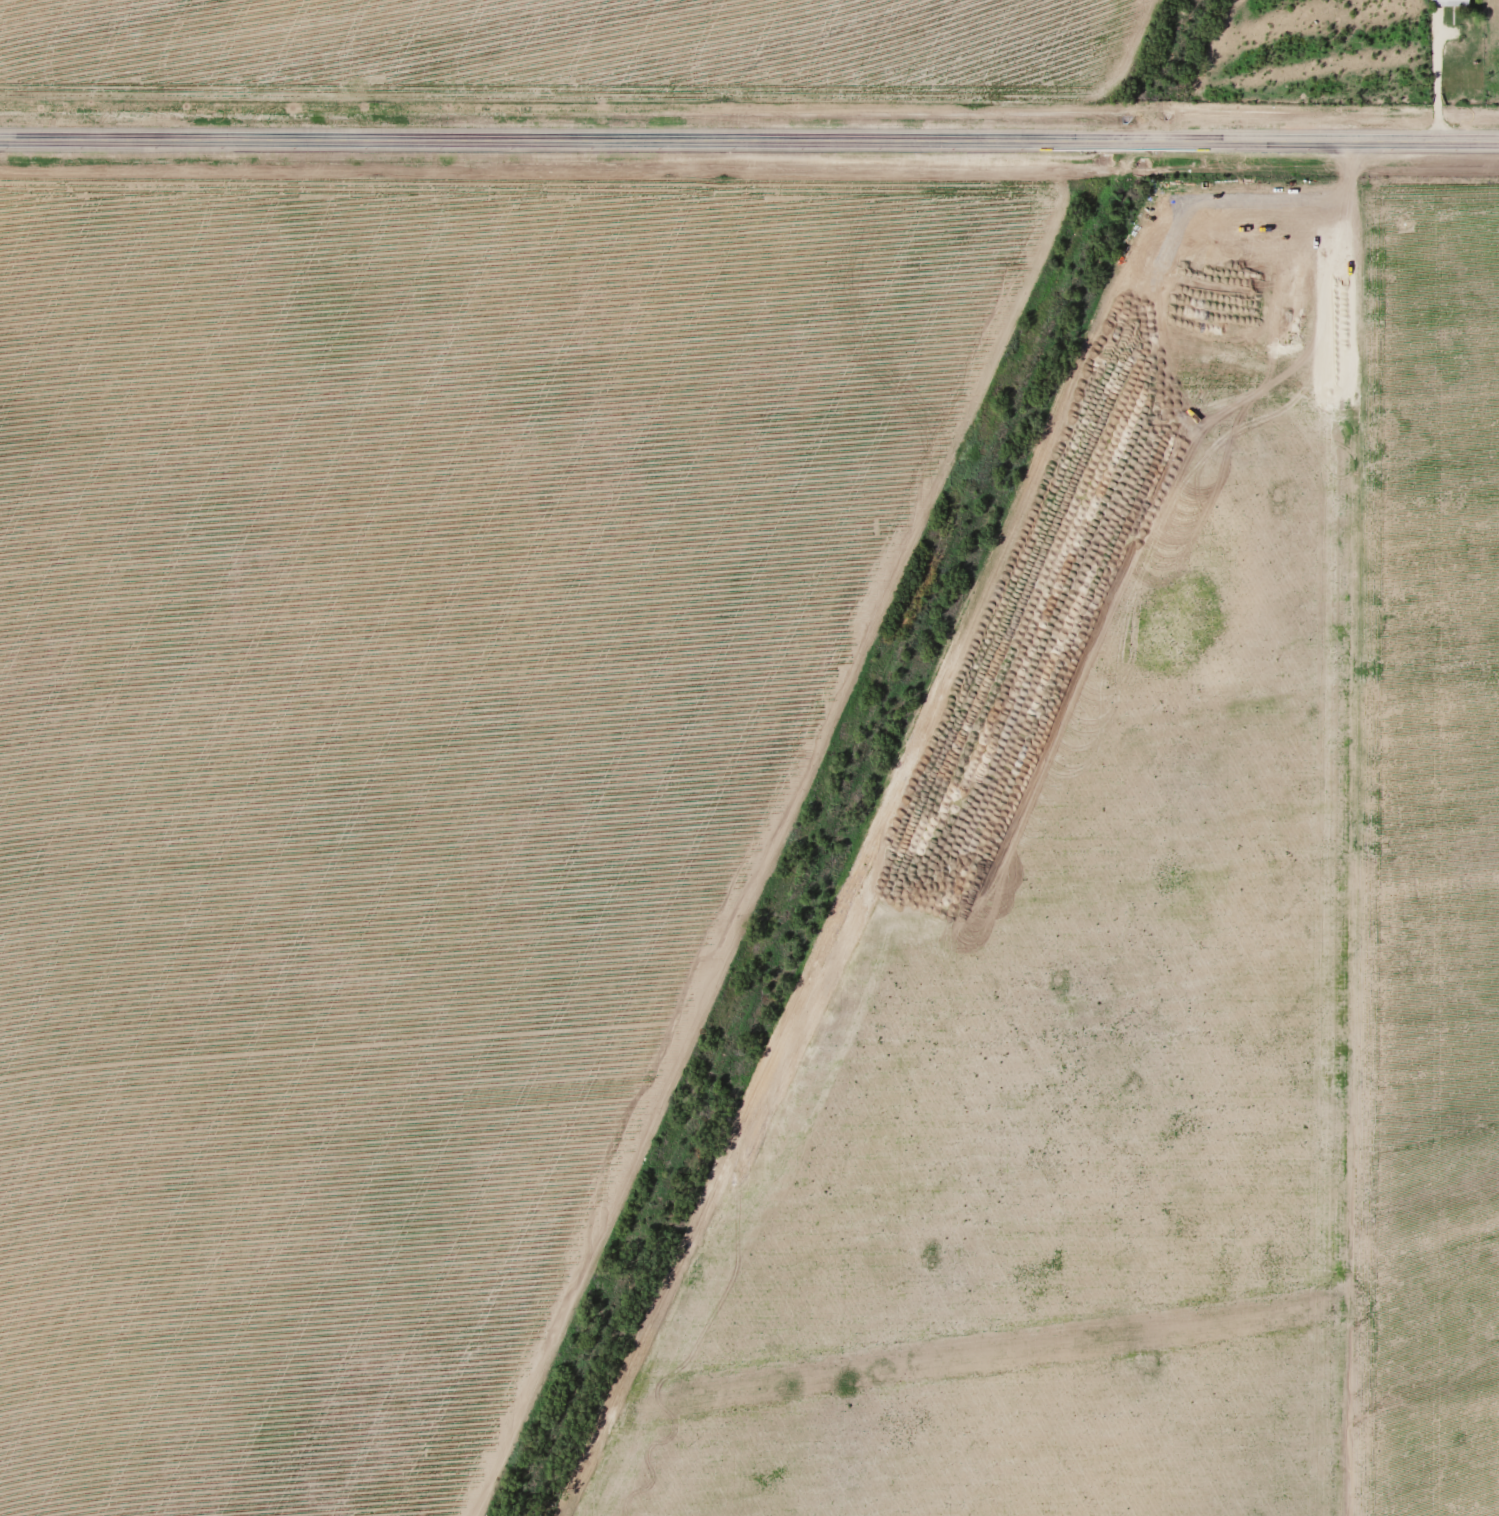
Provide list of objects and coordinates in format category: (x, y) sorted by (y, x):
building: (1450, 3)
road: (749, 141)
railway: (744, 1009)

